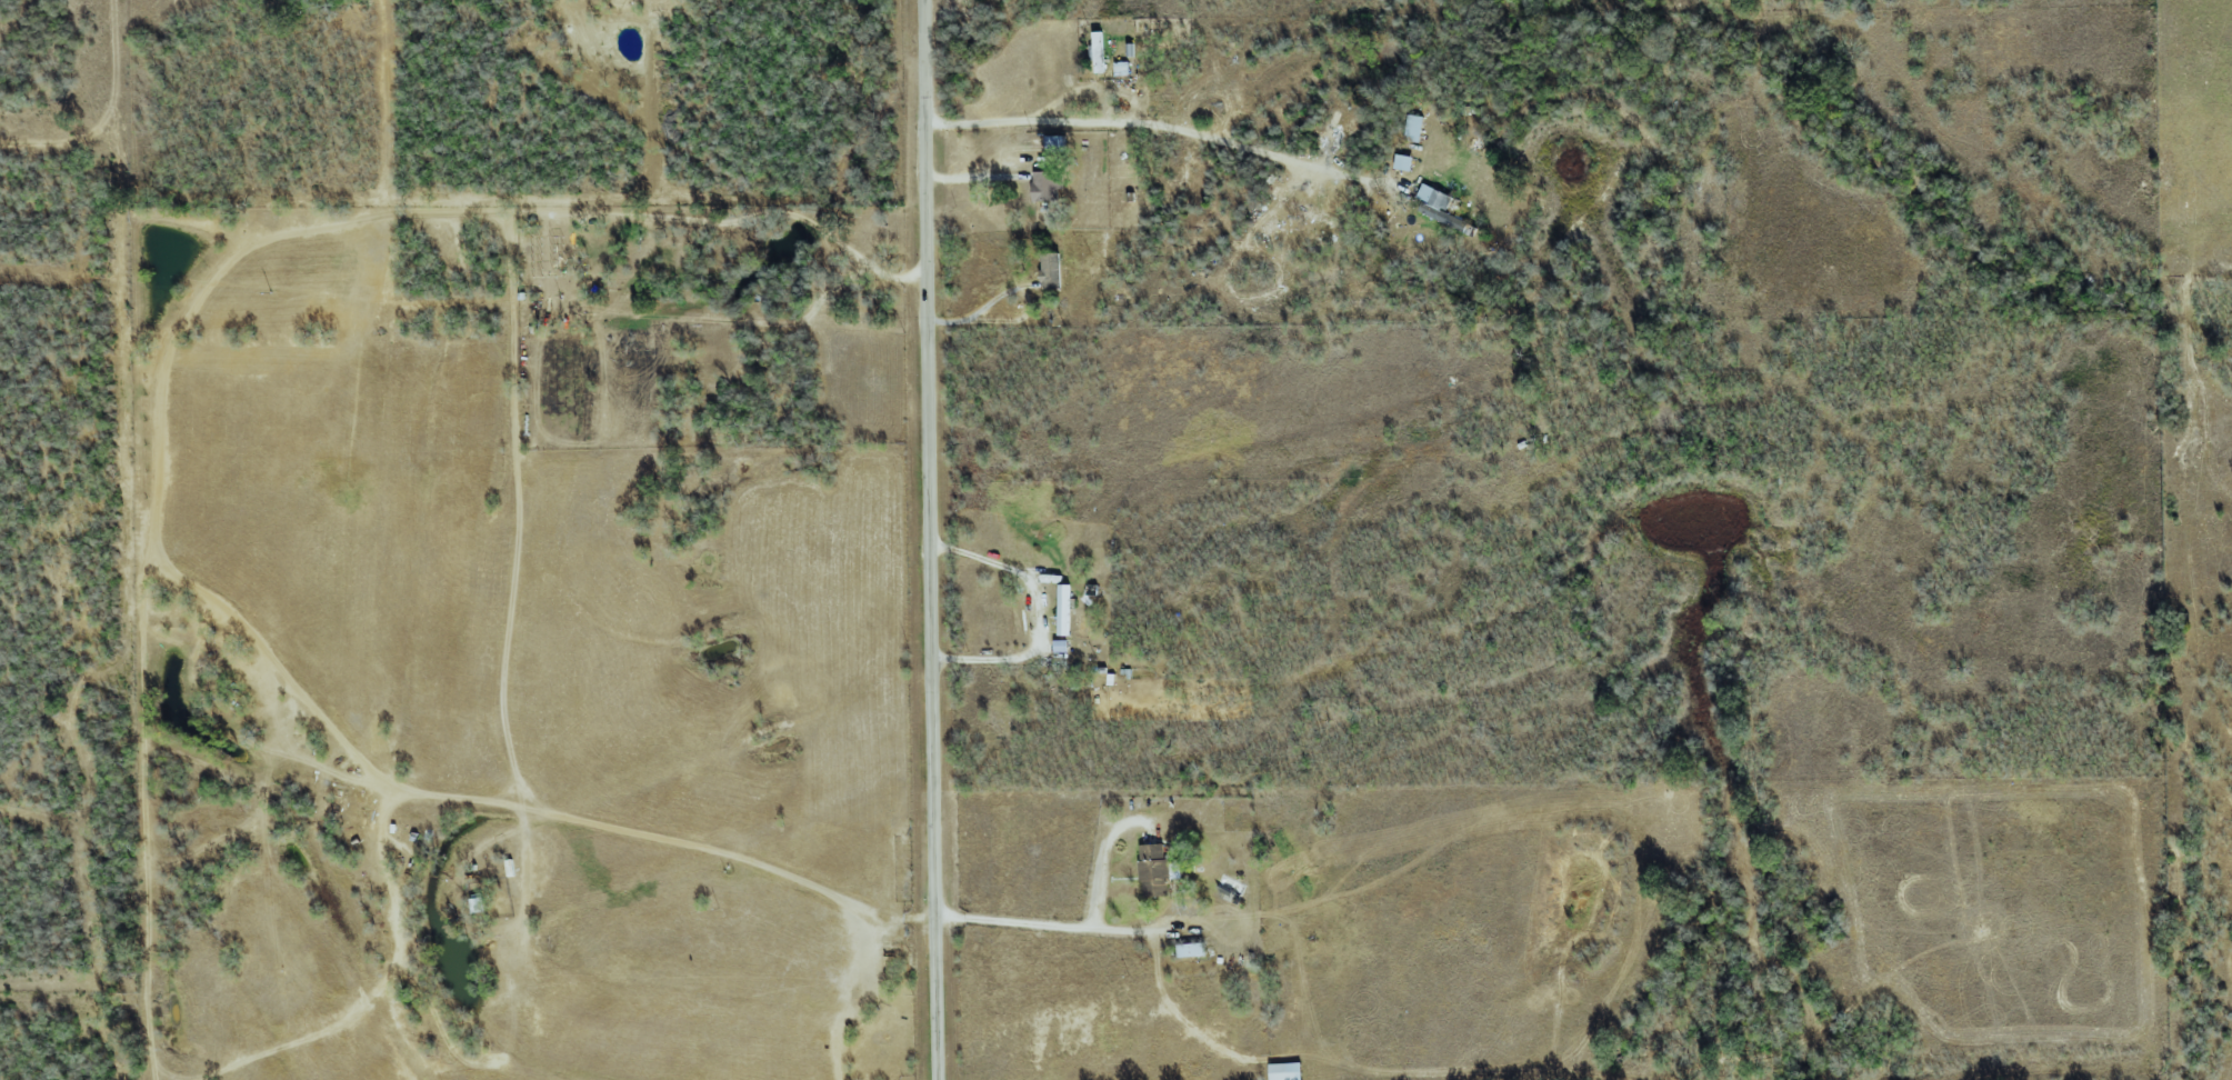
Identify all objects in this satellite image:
building: (1101, 51)
building: (1123, 68)
road: (1162, 127)
building: (1415, 128)
building: (1058, 143)
building: (1407, 162)
road: (977, 176)
building: (1049, 186)
building: (1442, 208)
road: (339, 219)
building: (1053, 270)
road: (929, 540)
building: (1065, 609)
road: (1039, 613)
building: (1064, 644)
road: (584, 821)
building: (1158, 869)
building: (479, 903)
road: (1063, 927)
building: (1194, 949)
building: (1288, 1071)

